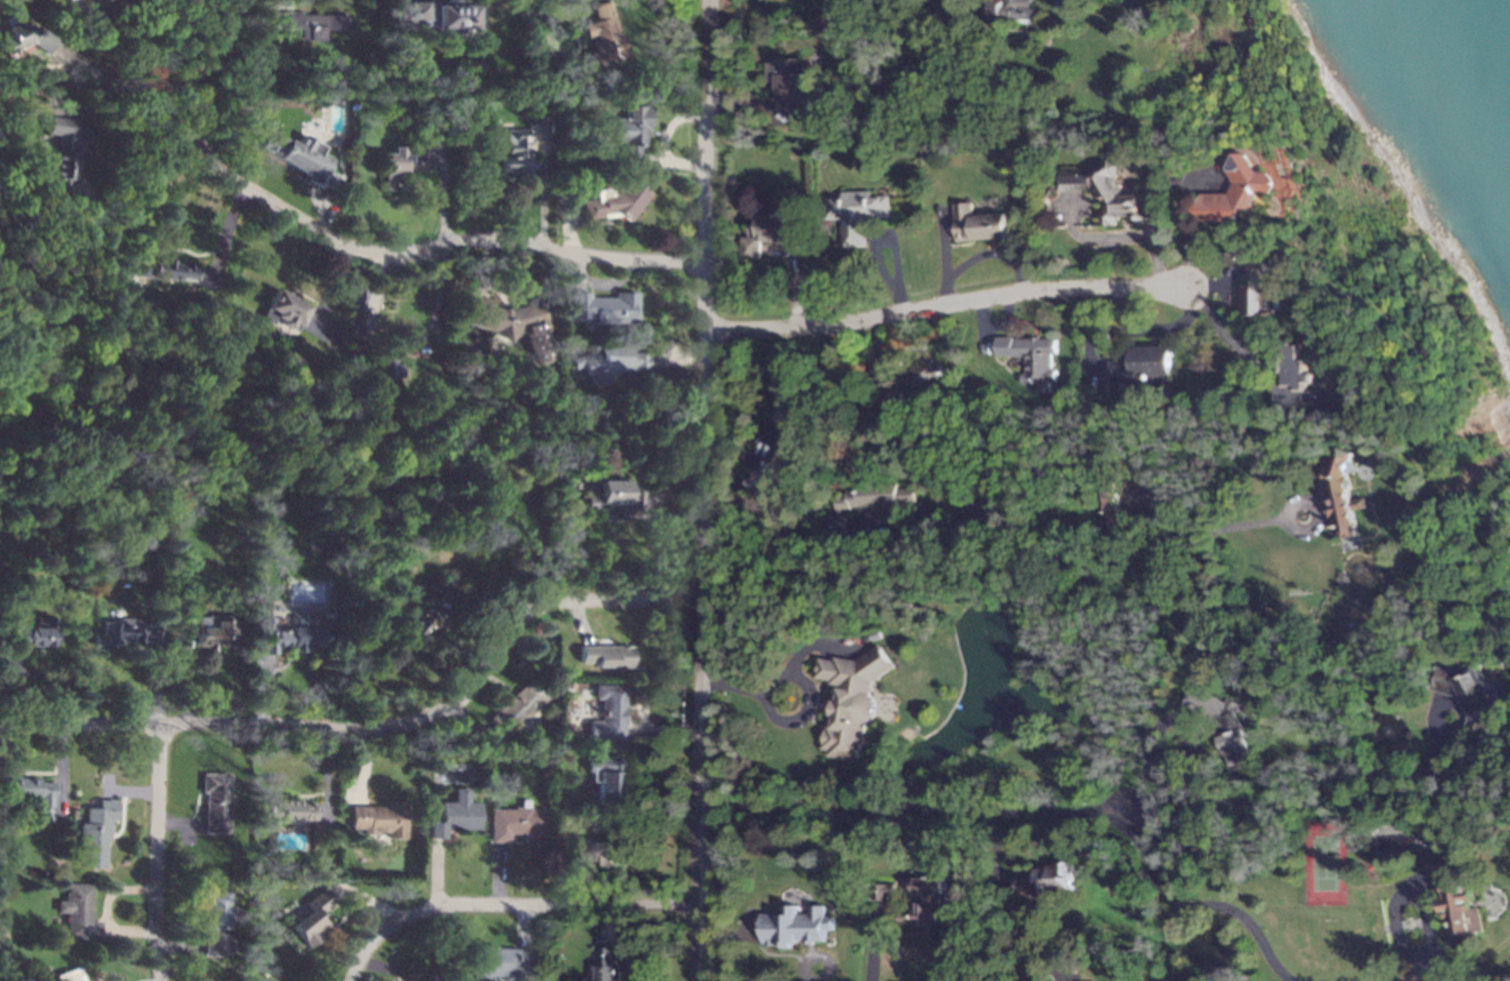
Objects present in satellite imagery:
building: (65, 0)
road: (601, 0)
road: (286, 4)
building: (81, 12)
building: (1010, 13)
road: (104, 15)
road: (150, 16)
building: (439, 17)
building: (307, 23)
building: (545, 32)
building: (22, 37)
building: (604, 39)
road: (61, 53)
road: (102, 81)
building: (788, 85)
road: (197, 88)
road: (765, 104)
building: (417, 106)
building: (353, 107)
building: (93, 111)
building: (532, 124)
road: (671, 125)
road: (122, 133)
building: (632, 135)
building: (517, 155)
building: (302, 158)
building: (67, 160)
road: (673, 162)
building: (402, 163)
road: (545, 187)
building: (1236, 192)
road: (443, 193)
building: (1108, 194)
building: (616, 202)
road: (574, 211)
road: (322, 213)
building: (855, 215)
road: (1184, 218)
building: (976, 225)
road: (568, 226)
road: (227, 228)
road: (1075, 231)
building: (765, 232)
road: (891, 237)
road: (1128, 237)
road: (456, 242)
road: (942, 248)
road: (978, 256)
road: (485, 267)
building: (168, 271)
road: (581, 271)
road: (218, 273)
road: (790, 276)
road: (473, 282)
road: (611, 282)
building: (1253, 284)
road: (1228, 285)
road: (1208, 287)
road: (331, 293)
building: (357, 295)
road: (946, 305)
building: (602, 308)
building: (281, 311)
road: (1004, 320)
building: (510, 324)
road: (980, 325)
road: (893, 330)
road: (1155, 332)
road: (1086, 334)
road: (1231, 342)
road: (896, 344)
road: (403, 349)
road: (677, 358)
building: (1030, 359)
building: (608, 362)
building: (1144, 369)
road: (1089, 372)
building: (372, 379)
building: (903, 381)
building: (1298, 382)
building: (768, 449)
building: (261, 474)
road: (702, 490)
road: (1133, 491)
building: (1345, 494)
building: (613, 496)
road: (1148, 498)
road: (667, 502)
road: (647, 503)
building: (1111, 503)
road: (733, 505)
building: (865, 505)
road: (657, 518)
building: (925, 524)
building: (689, 529)
road: (797, 553)
road: (1047, 560)
road: (482, 609)
building: (427, 612)
road: (579, 621)
building: (31, 632)
building: (126, 632)
building: (207, 632)
building: (290, 634)
building: (1405, 635)
building: (876, 636)
road: (815, 644)
building: (604, 656)
road: (1507, 660)
road: (182, 678)
road: (22, 684)
road: (156, 684)
road: (261, 690)
building: (1468, 700)
building: (851, 701)
road: (1452, 706)
building: (516, 708)
building: (607, 713)
road: (788, 723)
road: (467, 725)
road: (377, 726)
building: (1223, 727)
road: (662, 730)
road: (652, 749)
road: (364, 765)
road: (59, 767)
road: (325, 773)
building: (604, 781)
building: (27, 791)
road: (127, 791)
road: (56, 795)
building: (215, 801)
road: (1170, 805)
building: (287, 811)
road: (1015, 811)
building: (454, 815)
building: (380, 819)
road: (327, 821)
building: (516, 822)
road: (178, 823)
building: (95, 833)
road: (155, 852)
building: (597, 853)
road: (995, 854)
park: (1324, 866)
road: (436, 873)
road: (498, 874)
building: (1043, 881)
road: (580, 886)
road: (1425, 890)
road: (112, 891)
building: (881, 893)
road: (1404, 896)
building: (242, 898)
road: (363, 900)
building: (1455, 902)
road: (505, 904)
building: (925, 907)
building: (77, 913)
building: (311, 918)
building: (215, 925)
road: (607, 925)
building: (793, 926)
road: (128, 931)
building: (1, 934)
road: (176, 946)
road: (870, 947)
building: (499, 963)
road: (1469, 963)
building: (606, 965)
road: (384, 966)
road: (1421, 968)
building: (420, 973)
building: (68, 975)

